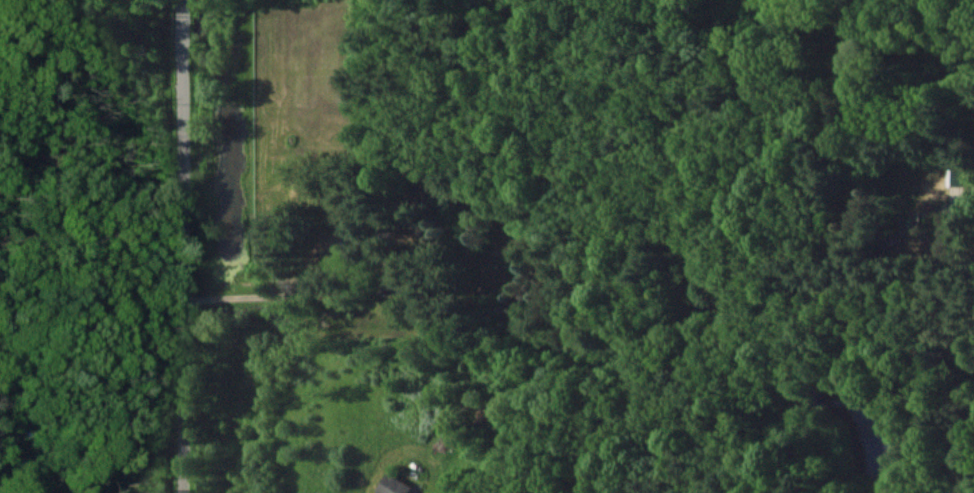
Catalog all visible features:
building: (955, 177)
building: (347, 244)
road: (184, 246)
road: (256, 296)
building: (394, 485)

